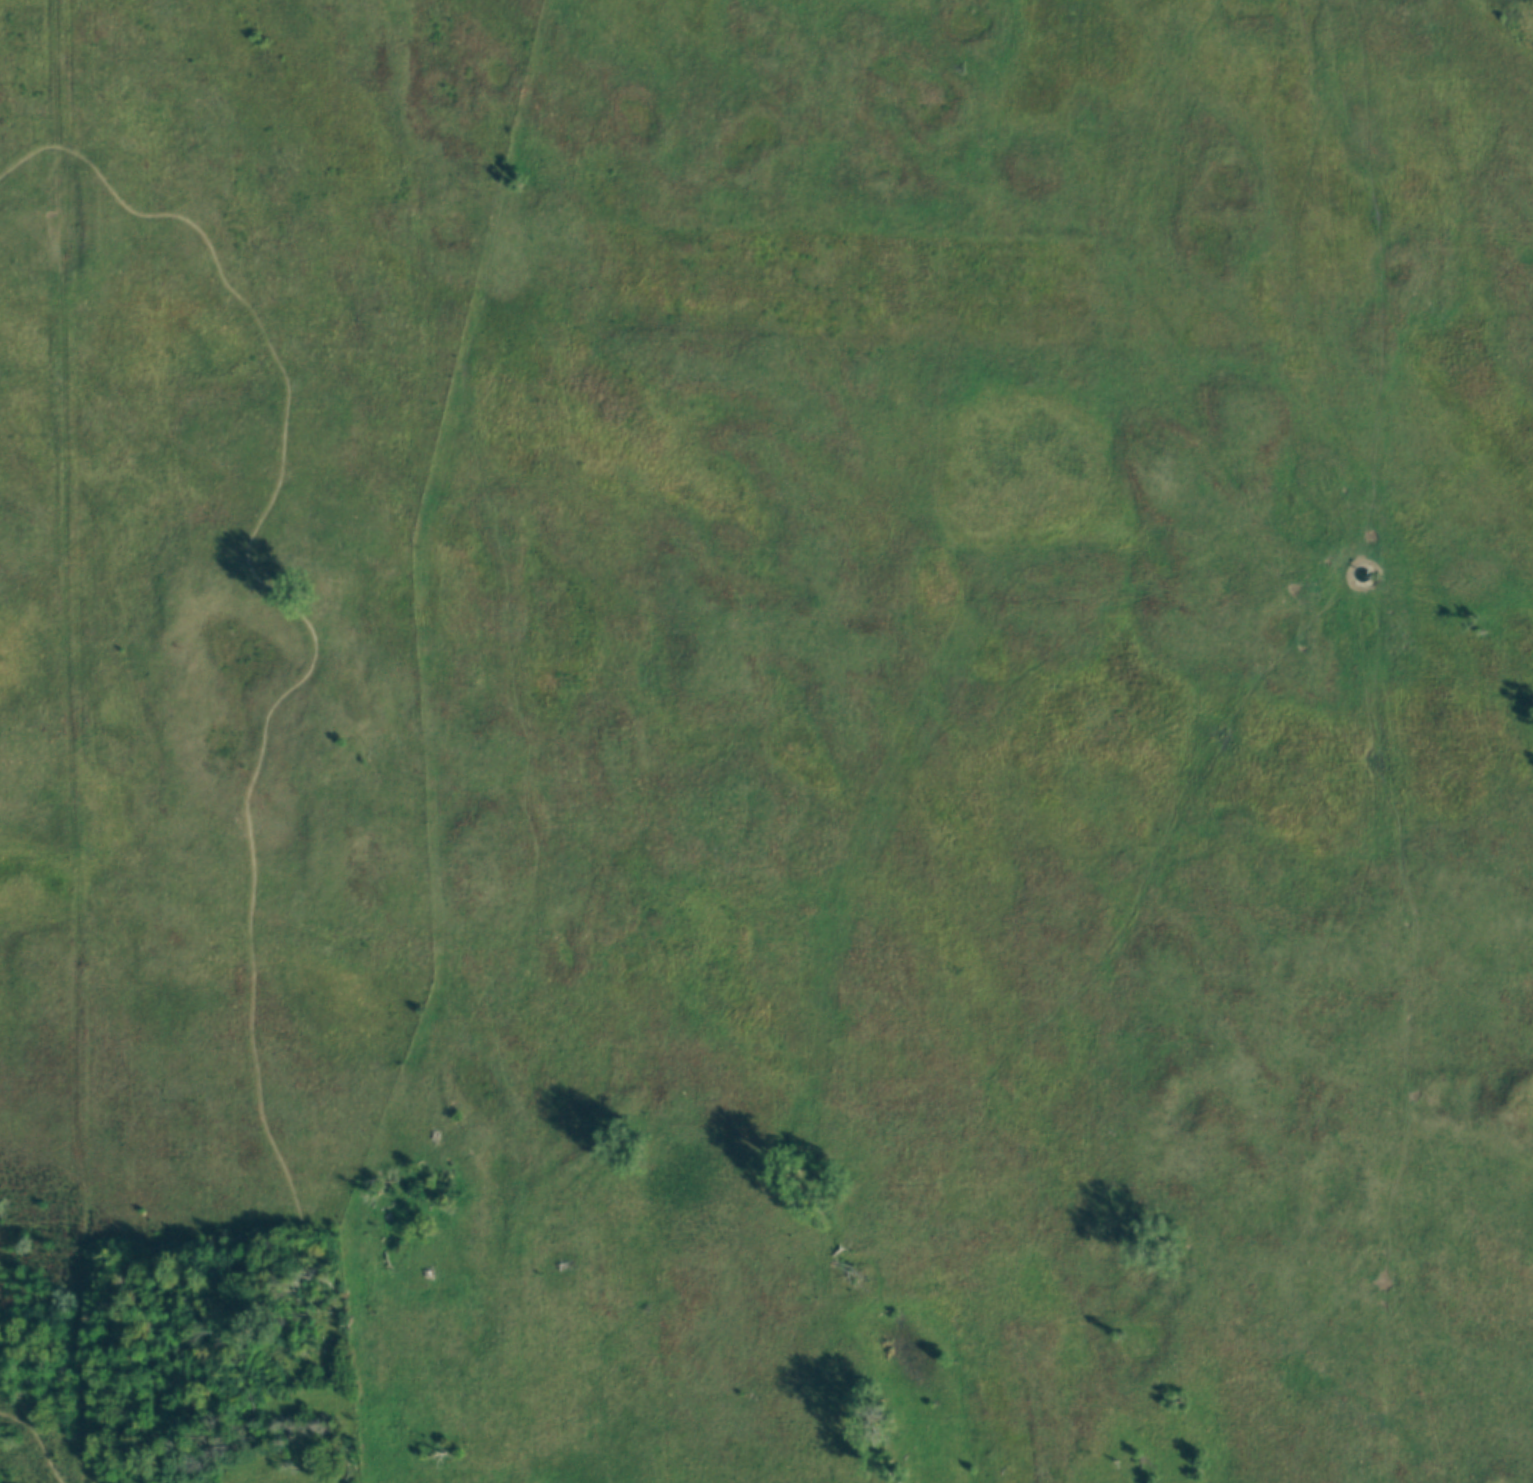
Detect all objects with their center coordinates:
road: (263, 731)
road: (38, 1440)

